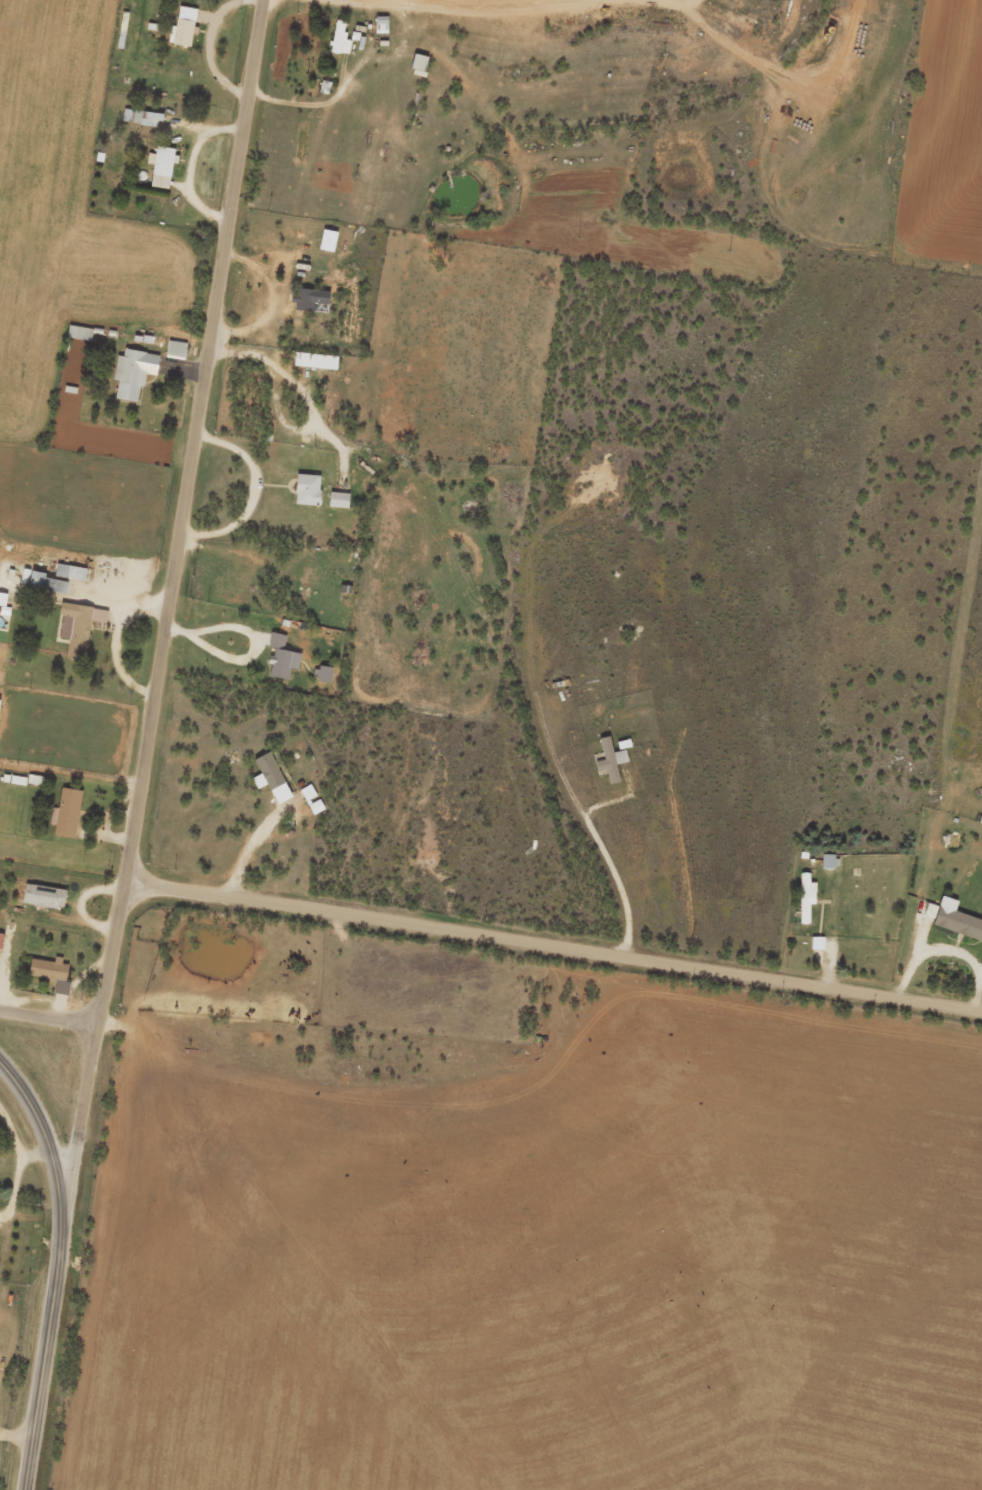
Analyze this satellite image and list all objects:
road: (423, 3)
building: (378, 31)
building: (181, 34)
building: (338, 46)
building: (416, 72)
building: (139, 124)
road: (758, 147)
building: (159, 173)
building: (324, 247)
building: (309, 307)
building: (77, 339)
building: (173, 356)
building: (312, 367)
building: (131, 379)
building: (304, 496)
building: (335, 506)
building: (67, 579)
building: (39, 589)
building: (1, 606)
road: (160, 625)
building: (76, 632)
building: (279, 665)
building: (321, 681)
building: (608, 766)
building: (268, 784)
building: (310, 806)
building: (64, 820)
building: (825, 868)
building: (40, 903)
building: (803, 904)
building: (951, 926)
road: (553, 943)
building: (815, 950)
building: (48, 980)
road: (49, 1016)
road: (56, 1268)

